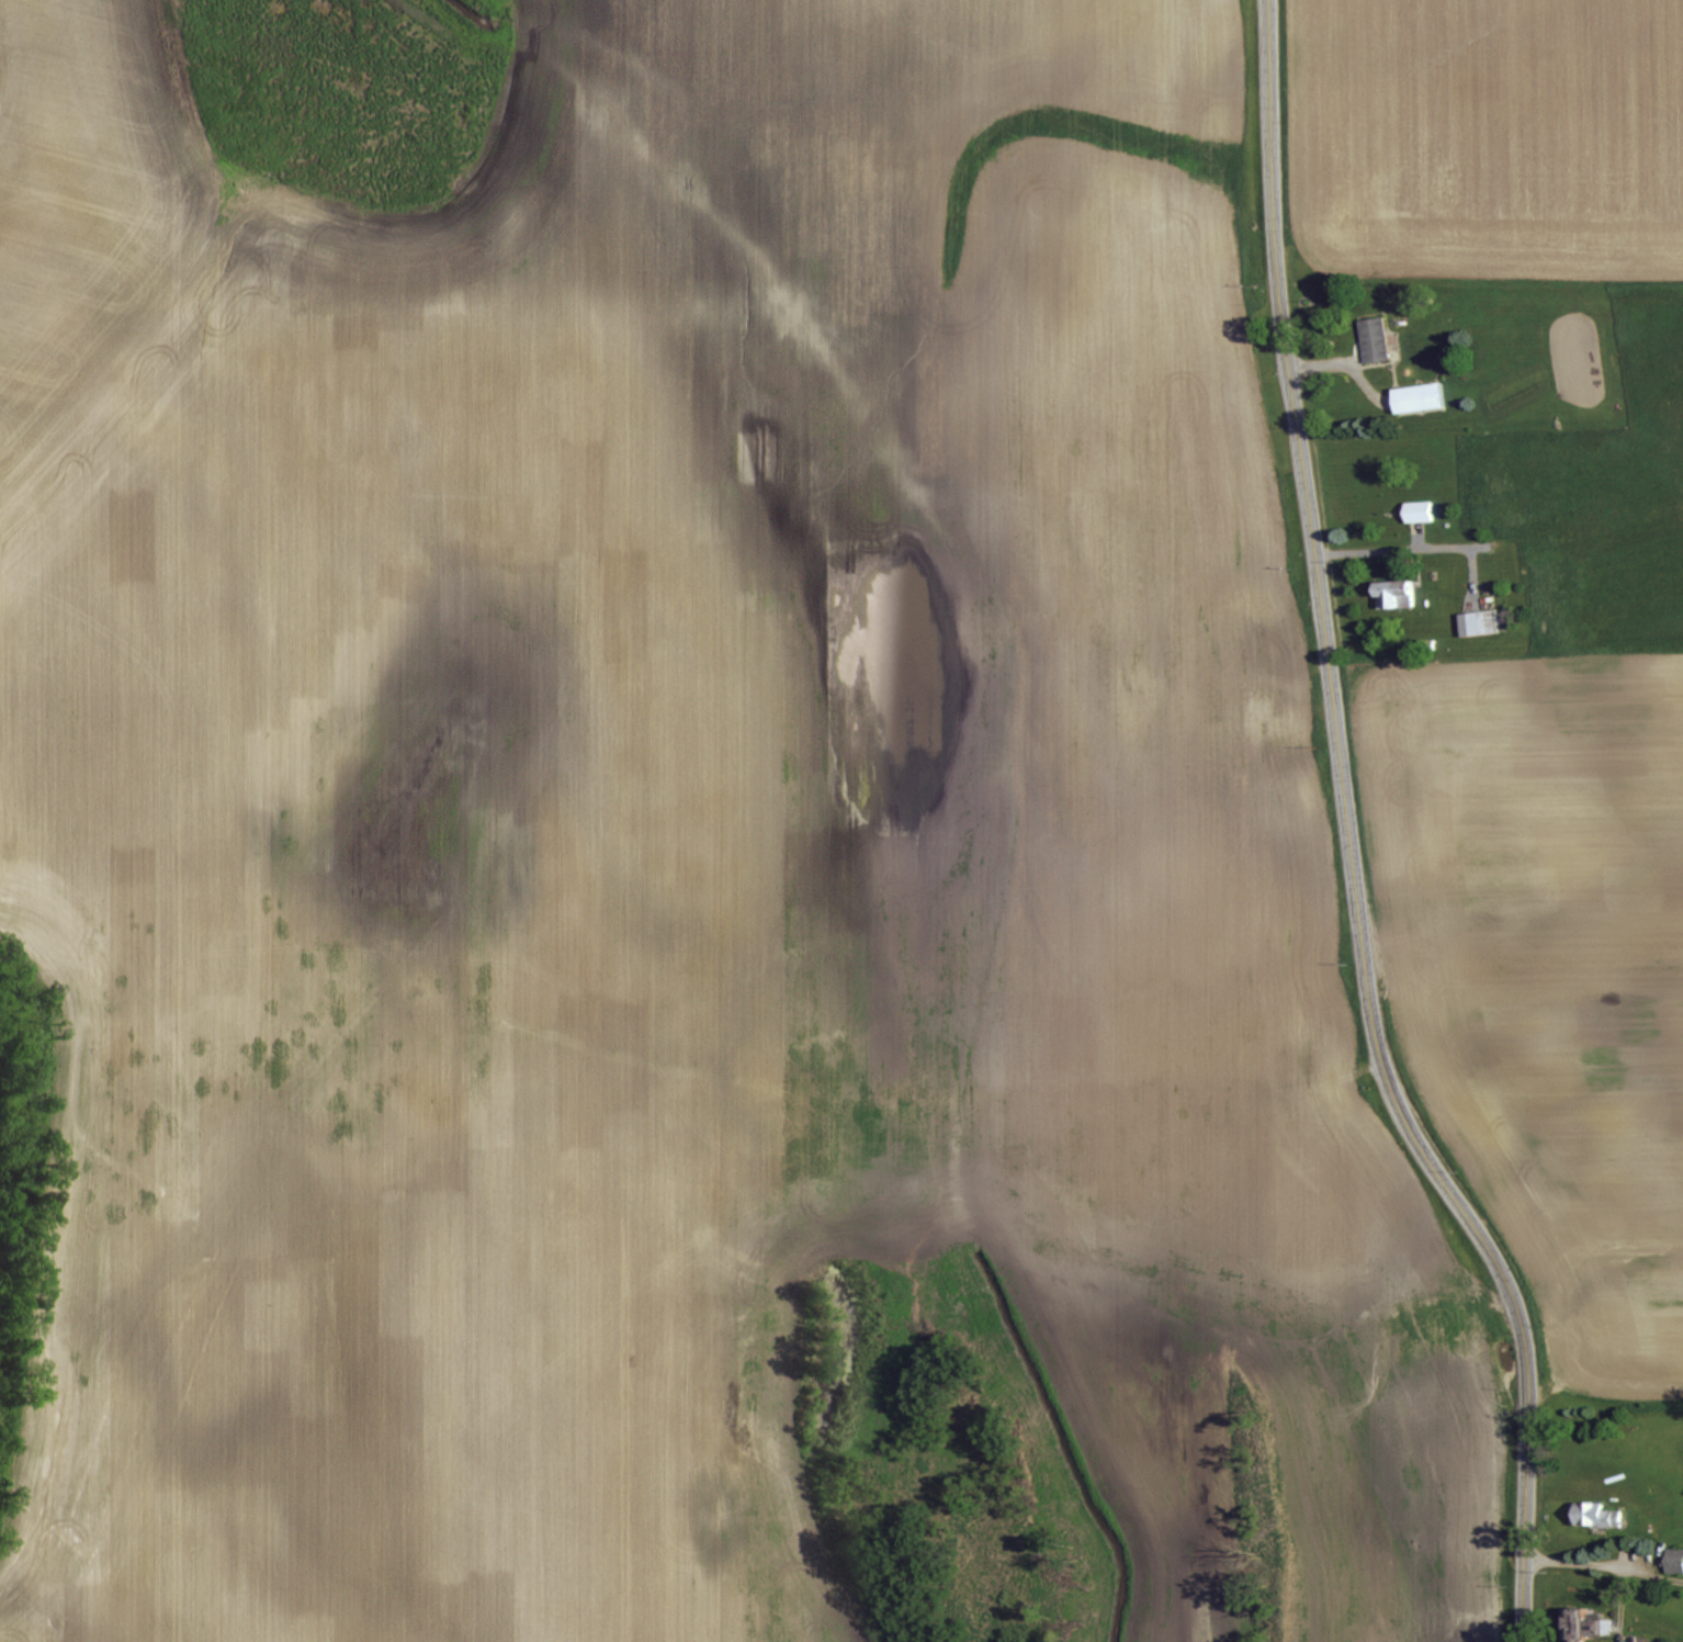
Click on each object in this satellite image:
building: (1373, 336)
building: (1413, 395)
building: (1416, 508)
building: (1477, 620)
road: (1351, 839)
building: (1593, 1512)
building: (1673, 1559)

